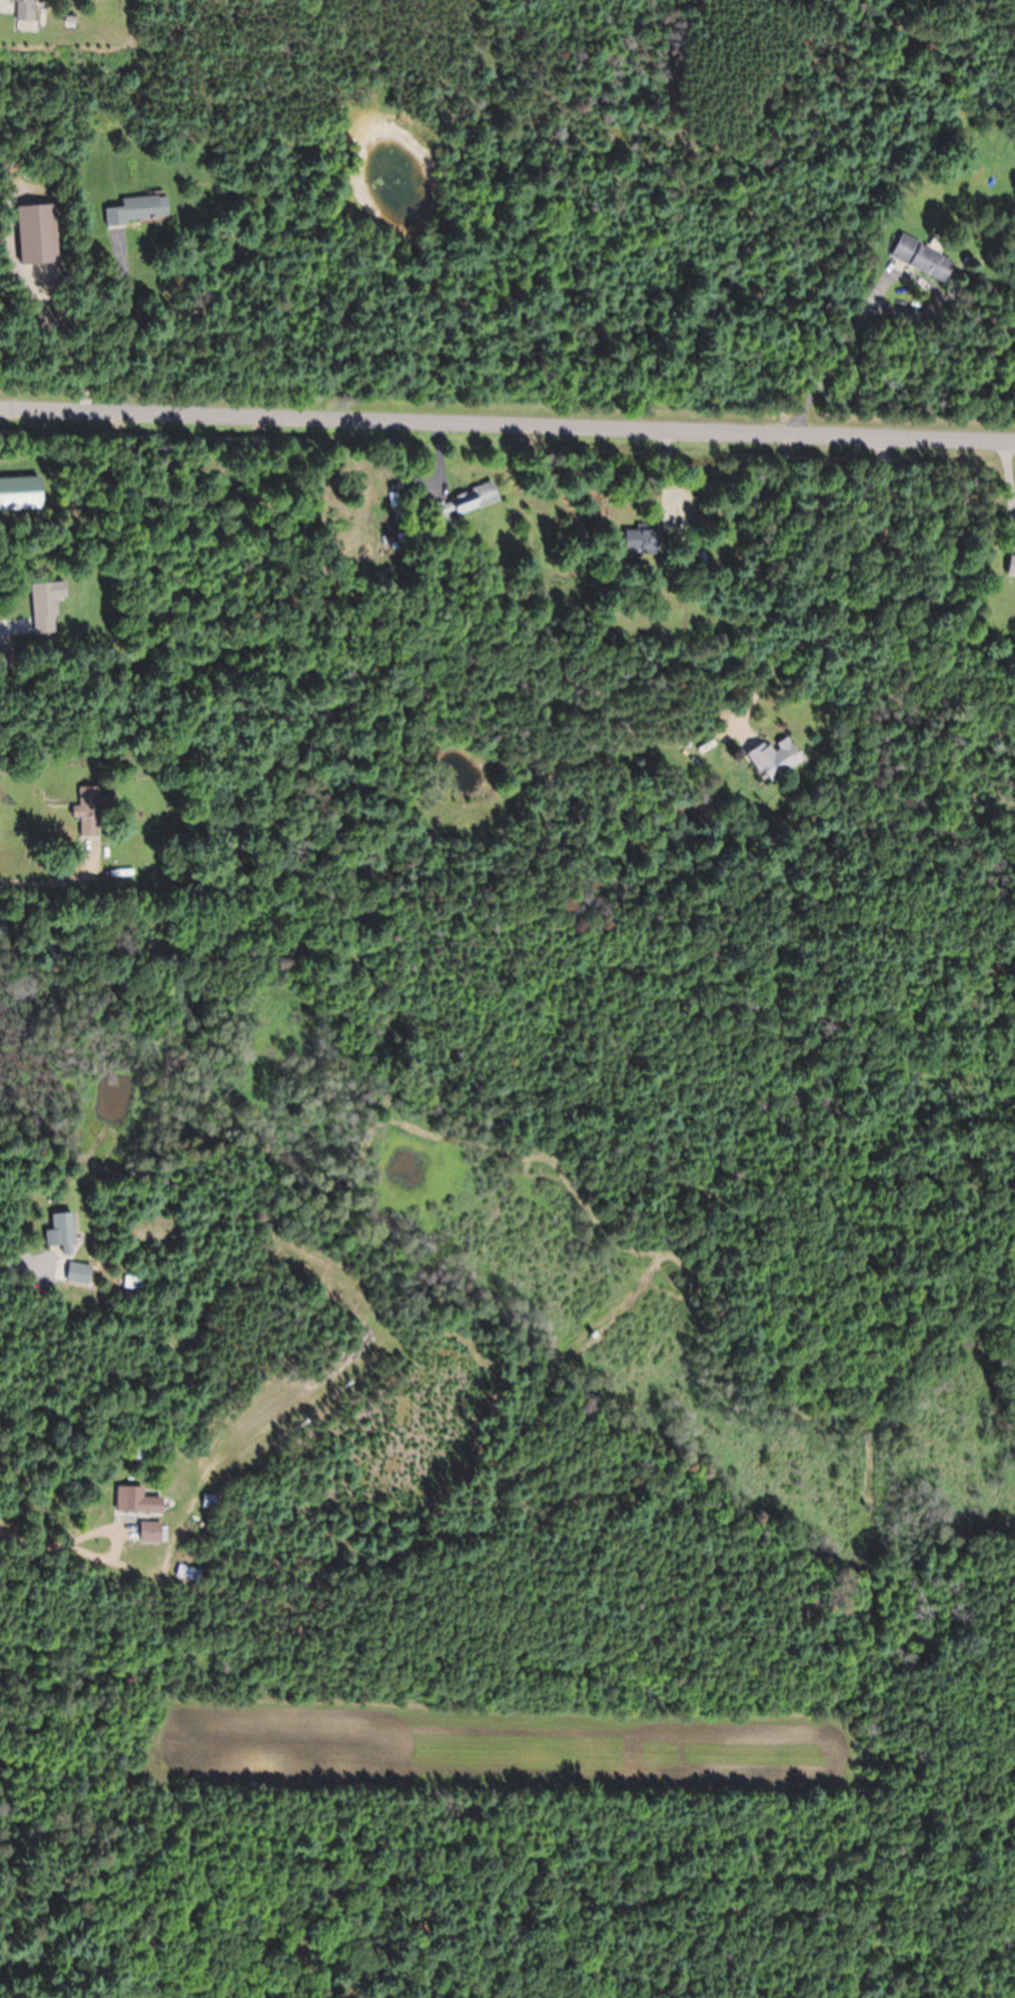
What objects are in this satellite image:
building: (24, 10)
building: (138, 210)
building: (921, 258)
road: (507, 429)
building: (459, 506)
building: (642, 539)
building: (1011, 567)
building: (44, 609)
building: (6, 660)
building: (774, 758)
building: (88, 812)
building: (61, 1231)
building: (72, 1272)
building: (134, 1282)
building: (136, 1500)
building: (150, 1531)

